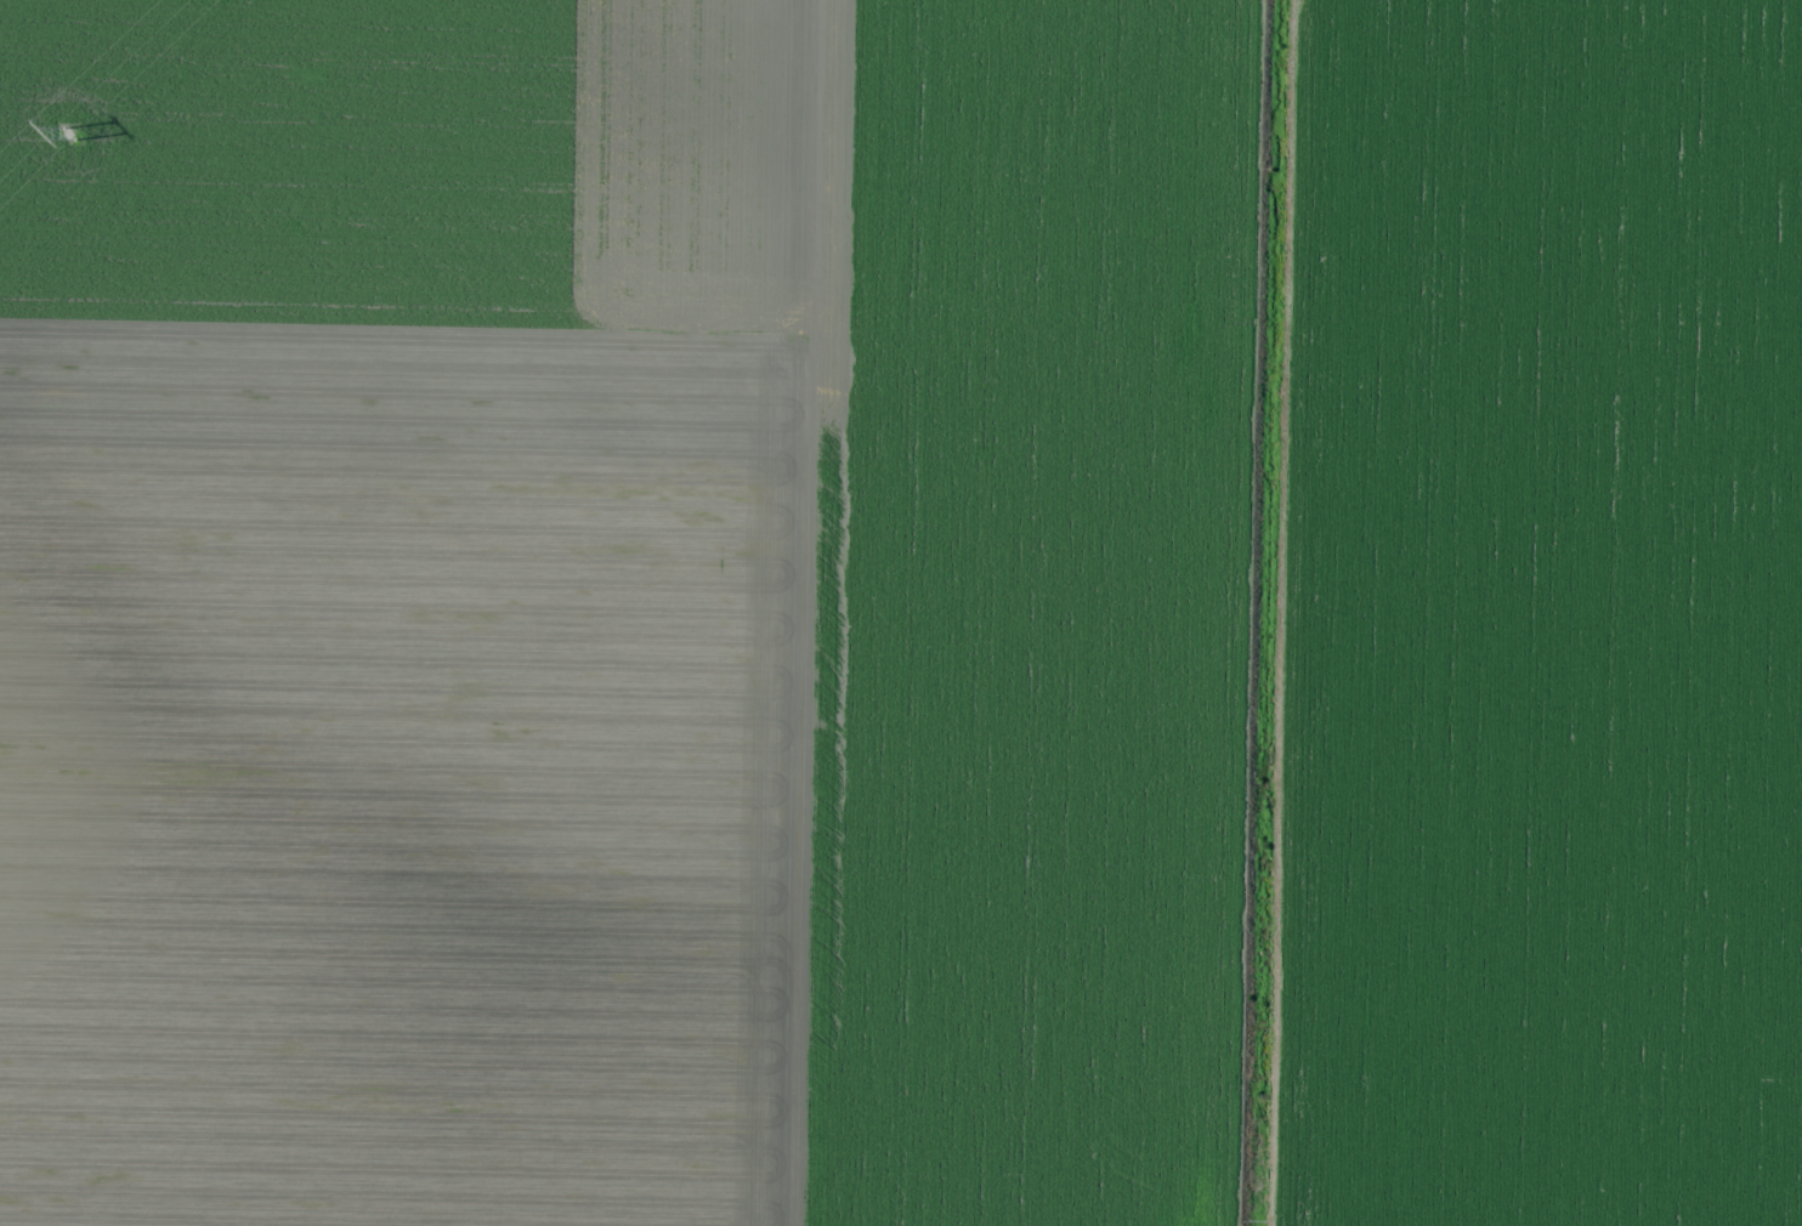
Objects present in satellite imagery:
power tower: (64, 123)

